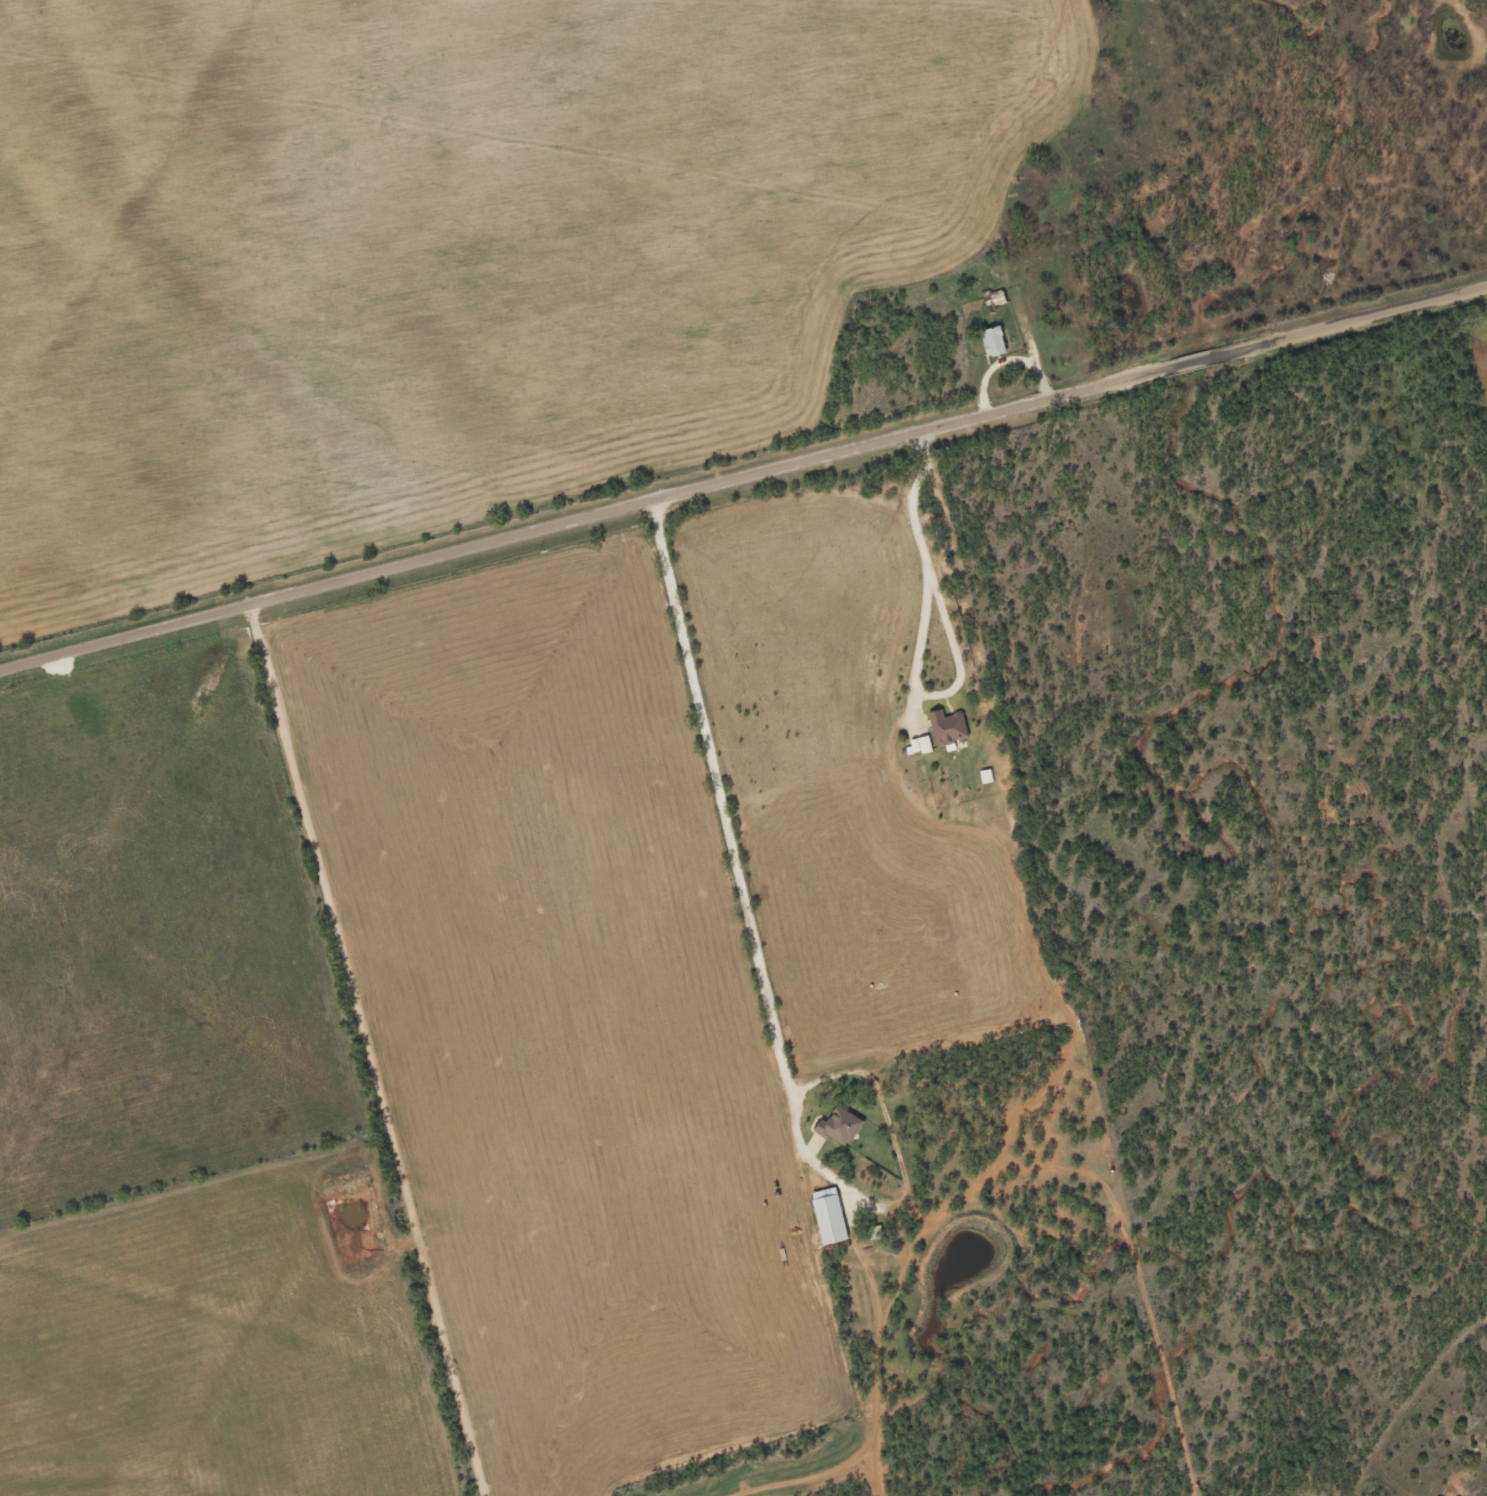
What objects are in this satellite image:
road: (742, 477)
building: (948, 727)
building: (925, 744)
building: (986, 776)
road: (765, 990)
road: (369, 1050)
building: (840, 1126)
building: (830, 1215)

